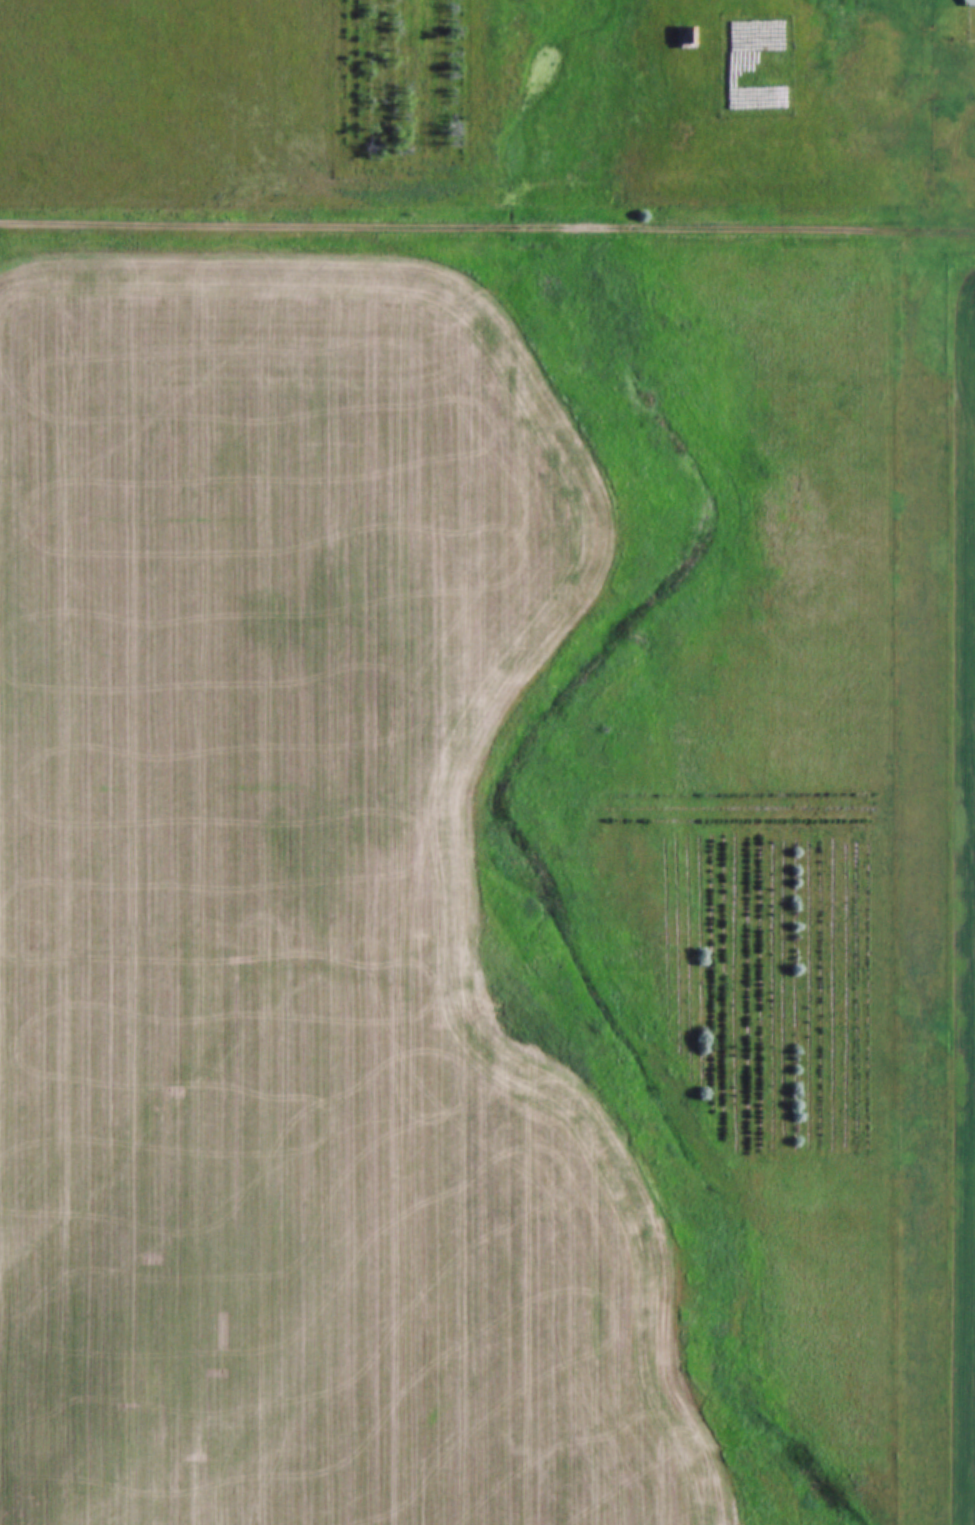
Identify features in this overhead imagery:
building: (963, 1)
building: (677, 25)
building: (669, 33)
road: (487, 231)

